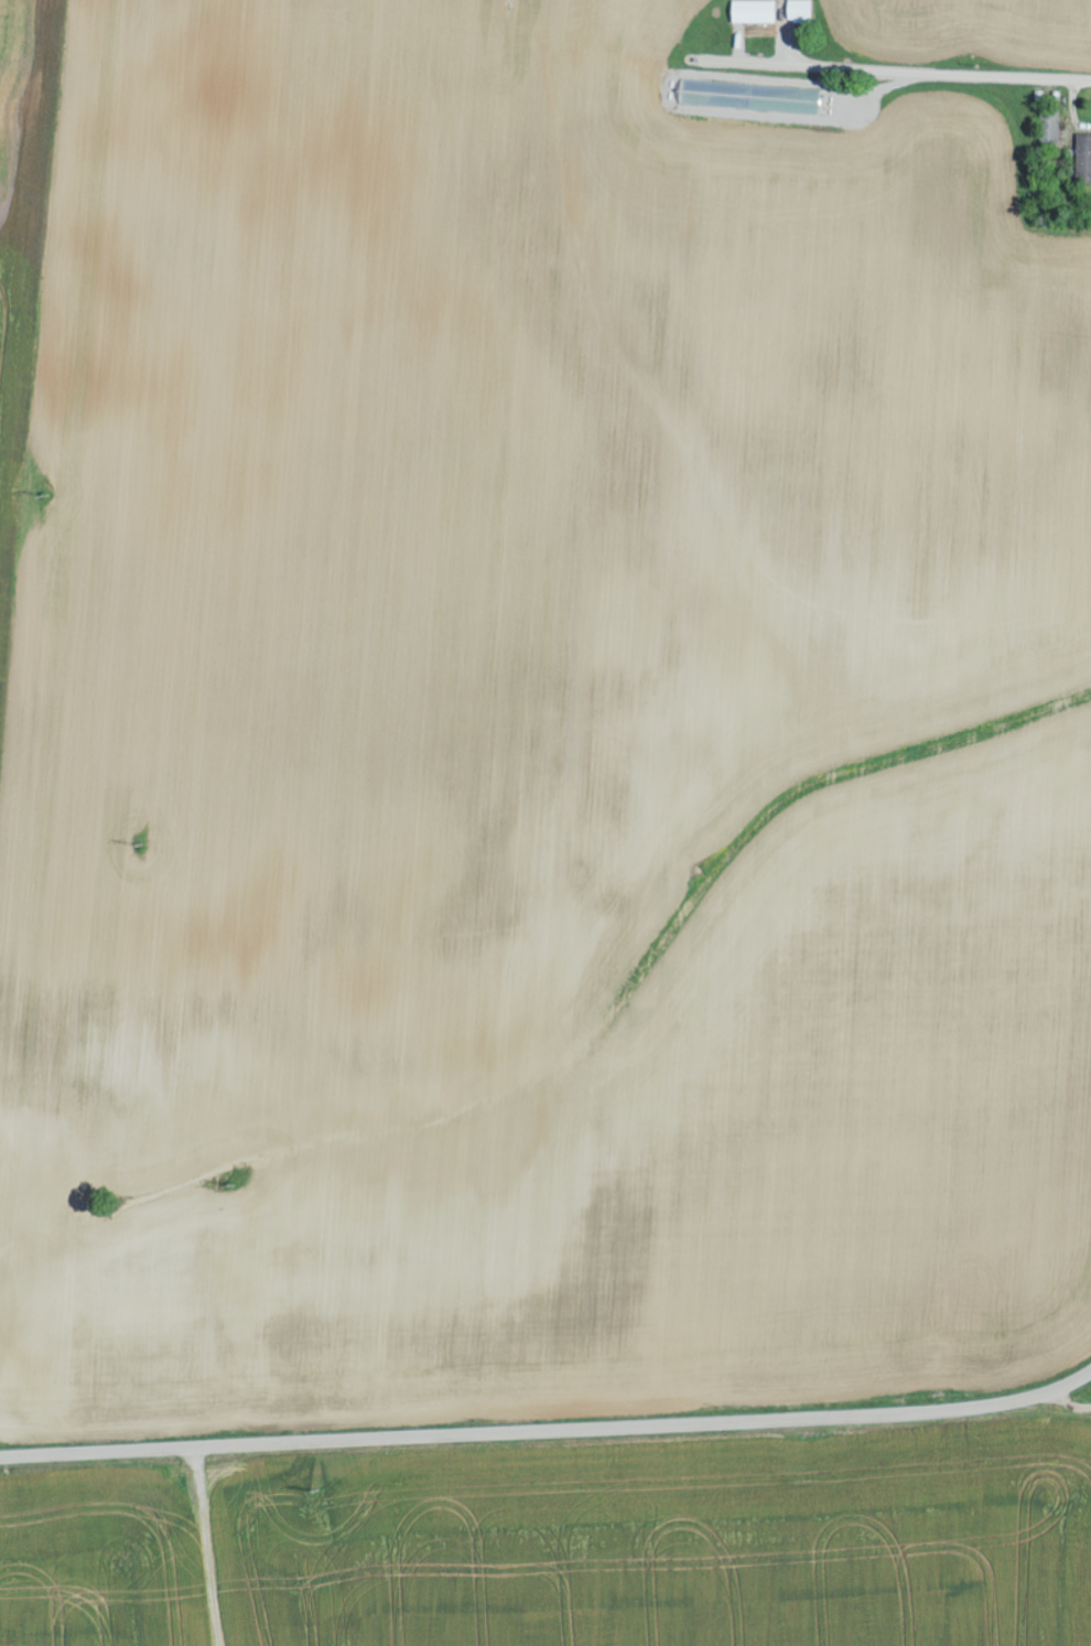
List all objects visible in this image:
building: (798, 11)
building: (753, 12)
building: (1083, 160)
road: (549, 1431)
road: (208, 1547)

